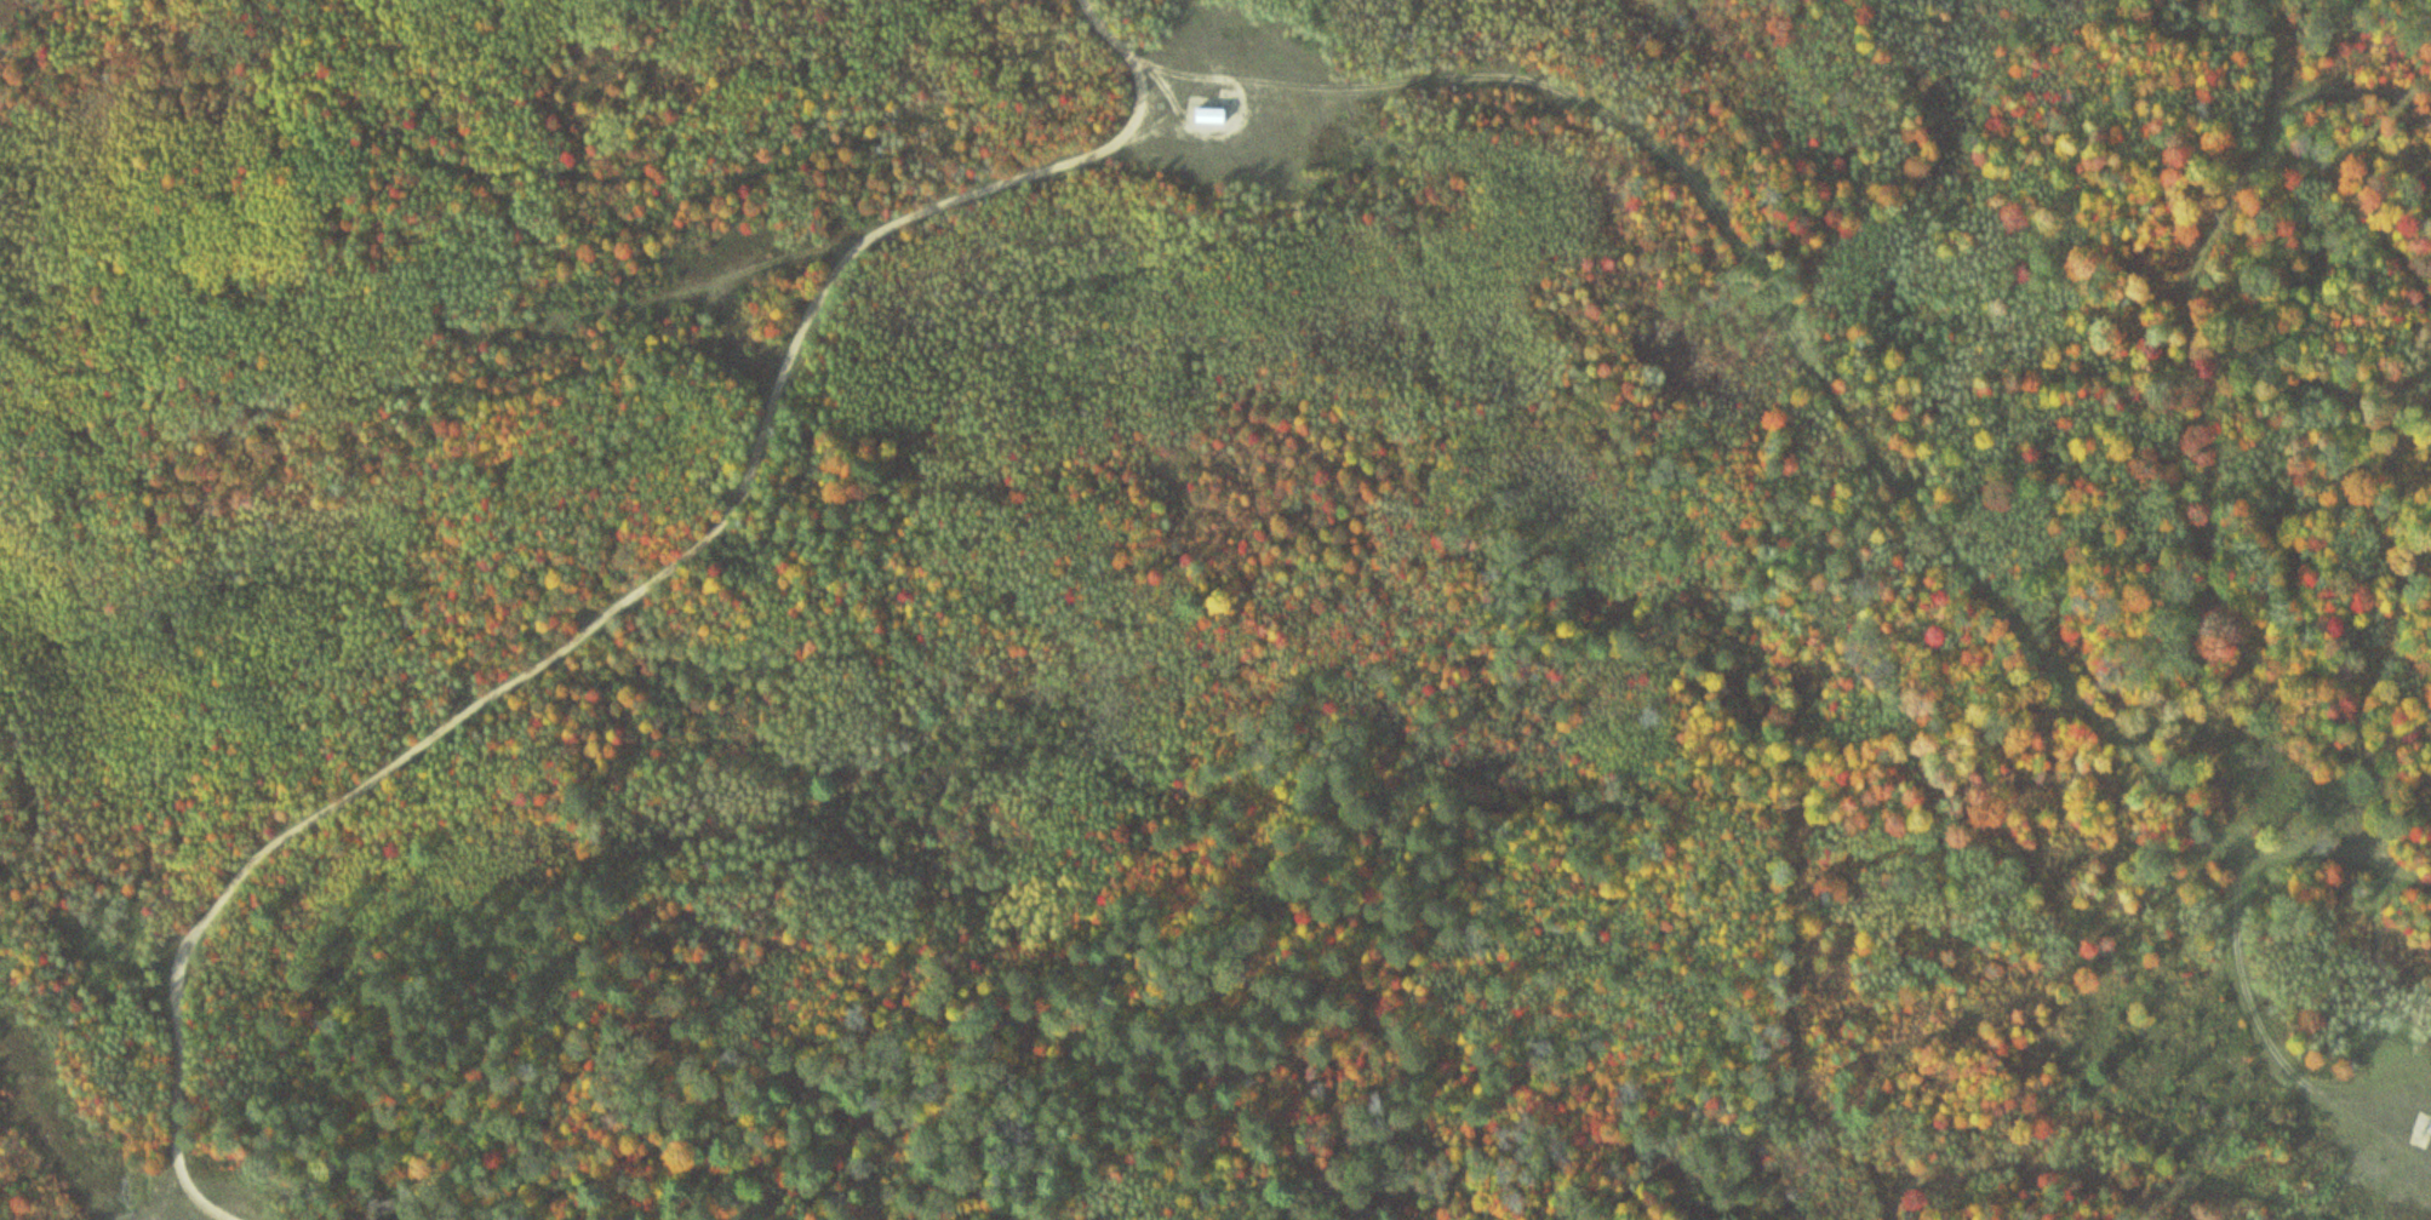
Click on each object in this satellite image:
building: (1199, 114)
road: (1826, 384)
road: (639, 592)
road: (2254, 1020)

